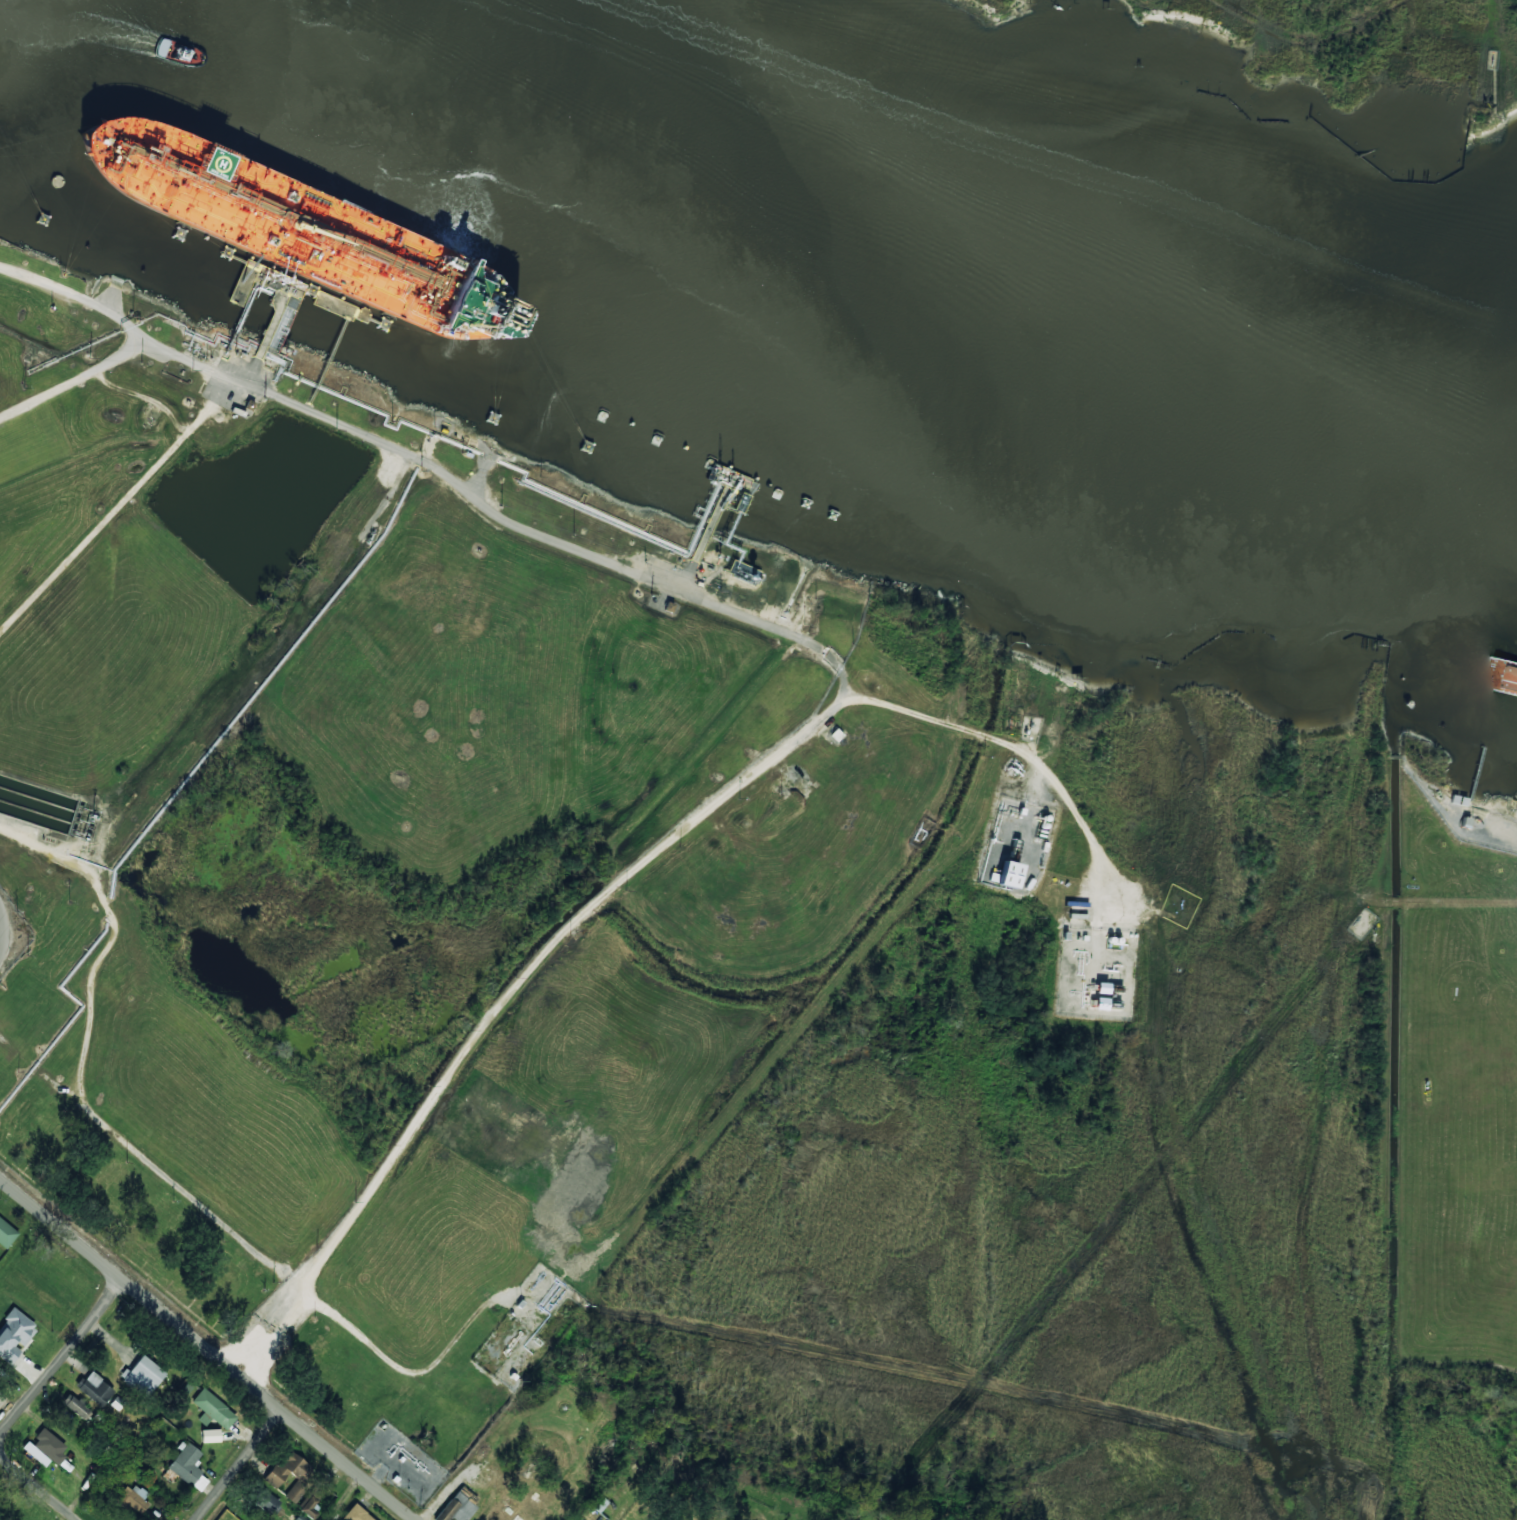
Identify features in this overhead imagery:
river: (845, 290)
road: (73, 296)
building: (743, 573)
building: (1458, 800)
building: (1004, 875)
road: (2, 929)
building: (1101, 988)
building: (6, 1234)
building: (14, 1335)
road: (208, 1348)
road: (59, 1363)
building: (143, 1375)
building: (94, 1388)
building: (75, 1406)
building: (213, 1410)
building: (209, 1436)
building: (46, 1447)
road: (240, 1465)
building: (188, 1467)
building: (291, 1475)
road: (39, 1487)
building: (132, 1498)
building: (311, 1501)
building: (267, 1502)
building: (458, 1505)
building: (503, 1513)
building: (356, 1514)
building: (299, 1518)

